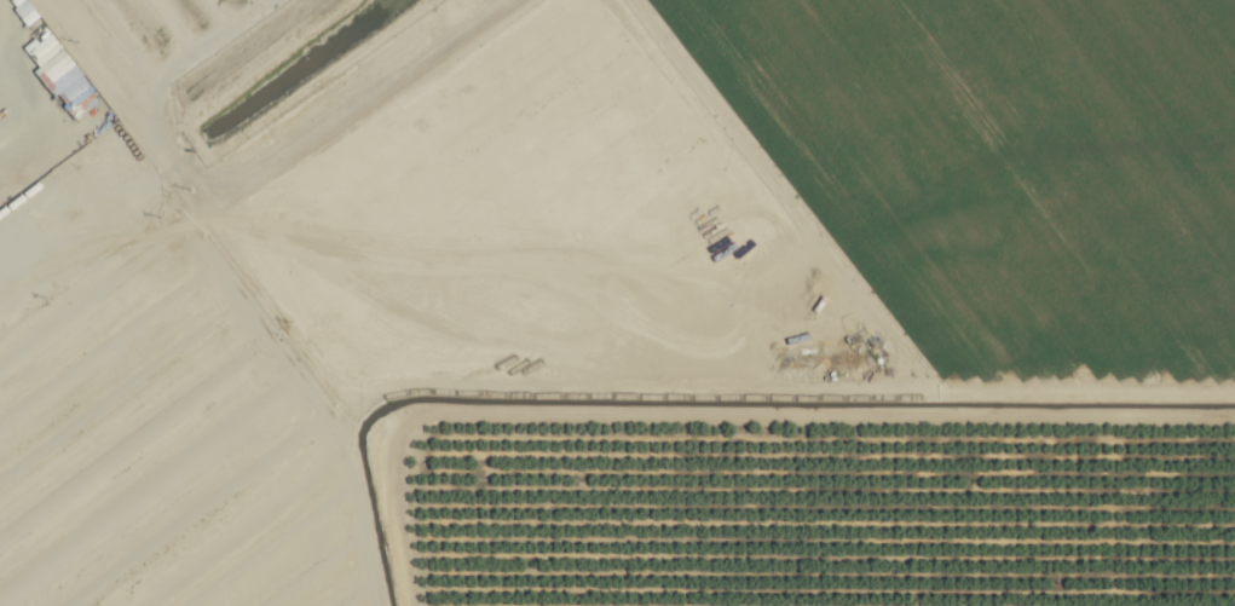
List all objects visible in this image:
crop: (244, 64)
building: (57, 69)
crop: (789, 312)

